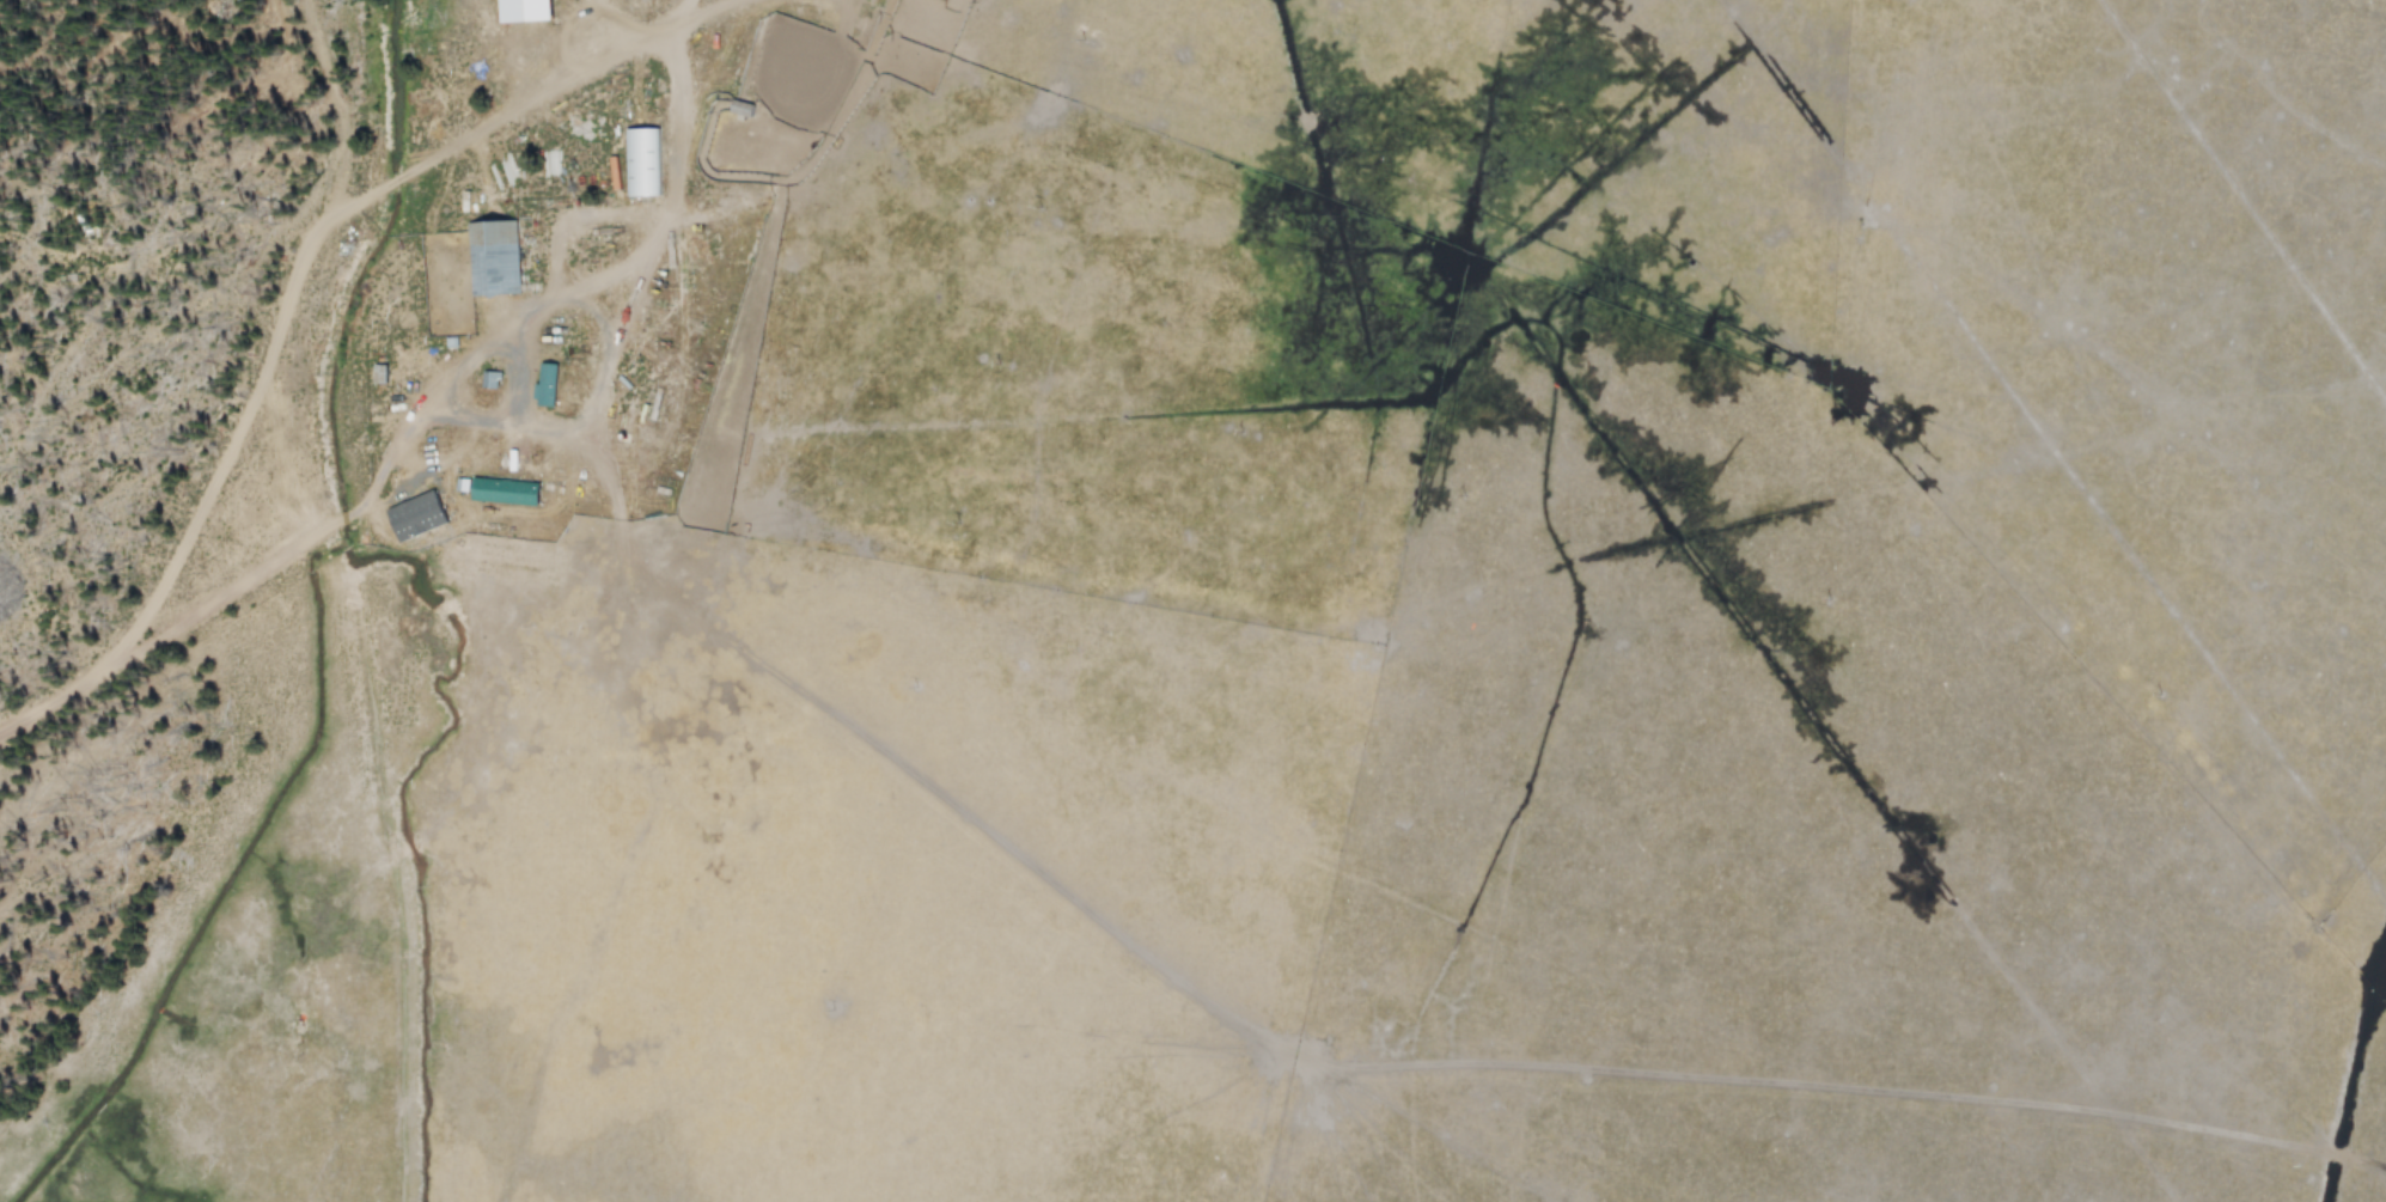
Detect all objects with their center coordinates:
building: (525, 10)
building: (642, 161)
building: (495, 256)
building: (490, 379)
building: (547, 383)
building: (500, 489)
building: (416, 515)
road: (185, 614)

